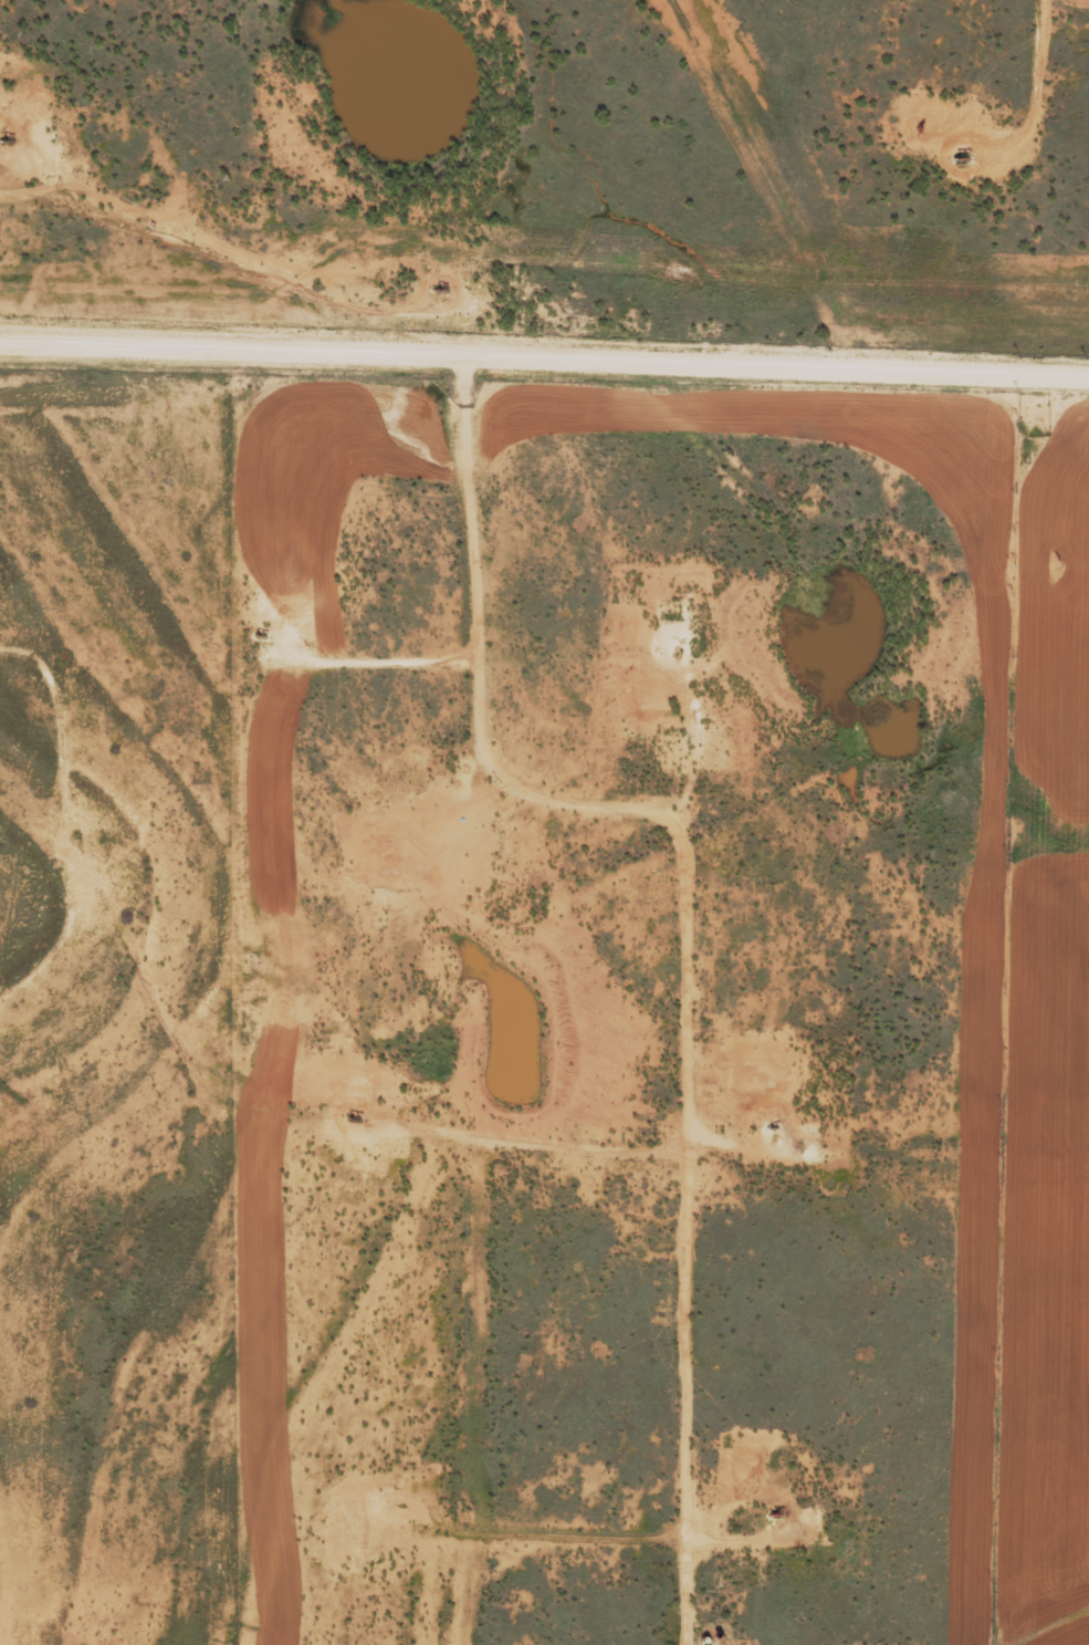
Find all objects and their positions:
road: (1018, 51)
road: (133, 259)
road: (544, 391)
road: (458, 606)
road: (72, 827)
road: (413, 848)
road: (884, 1179)
road: (685, 1423)

